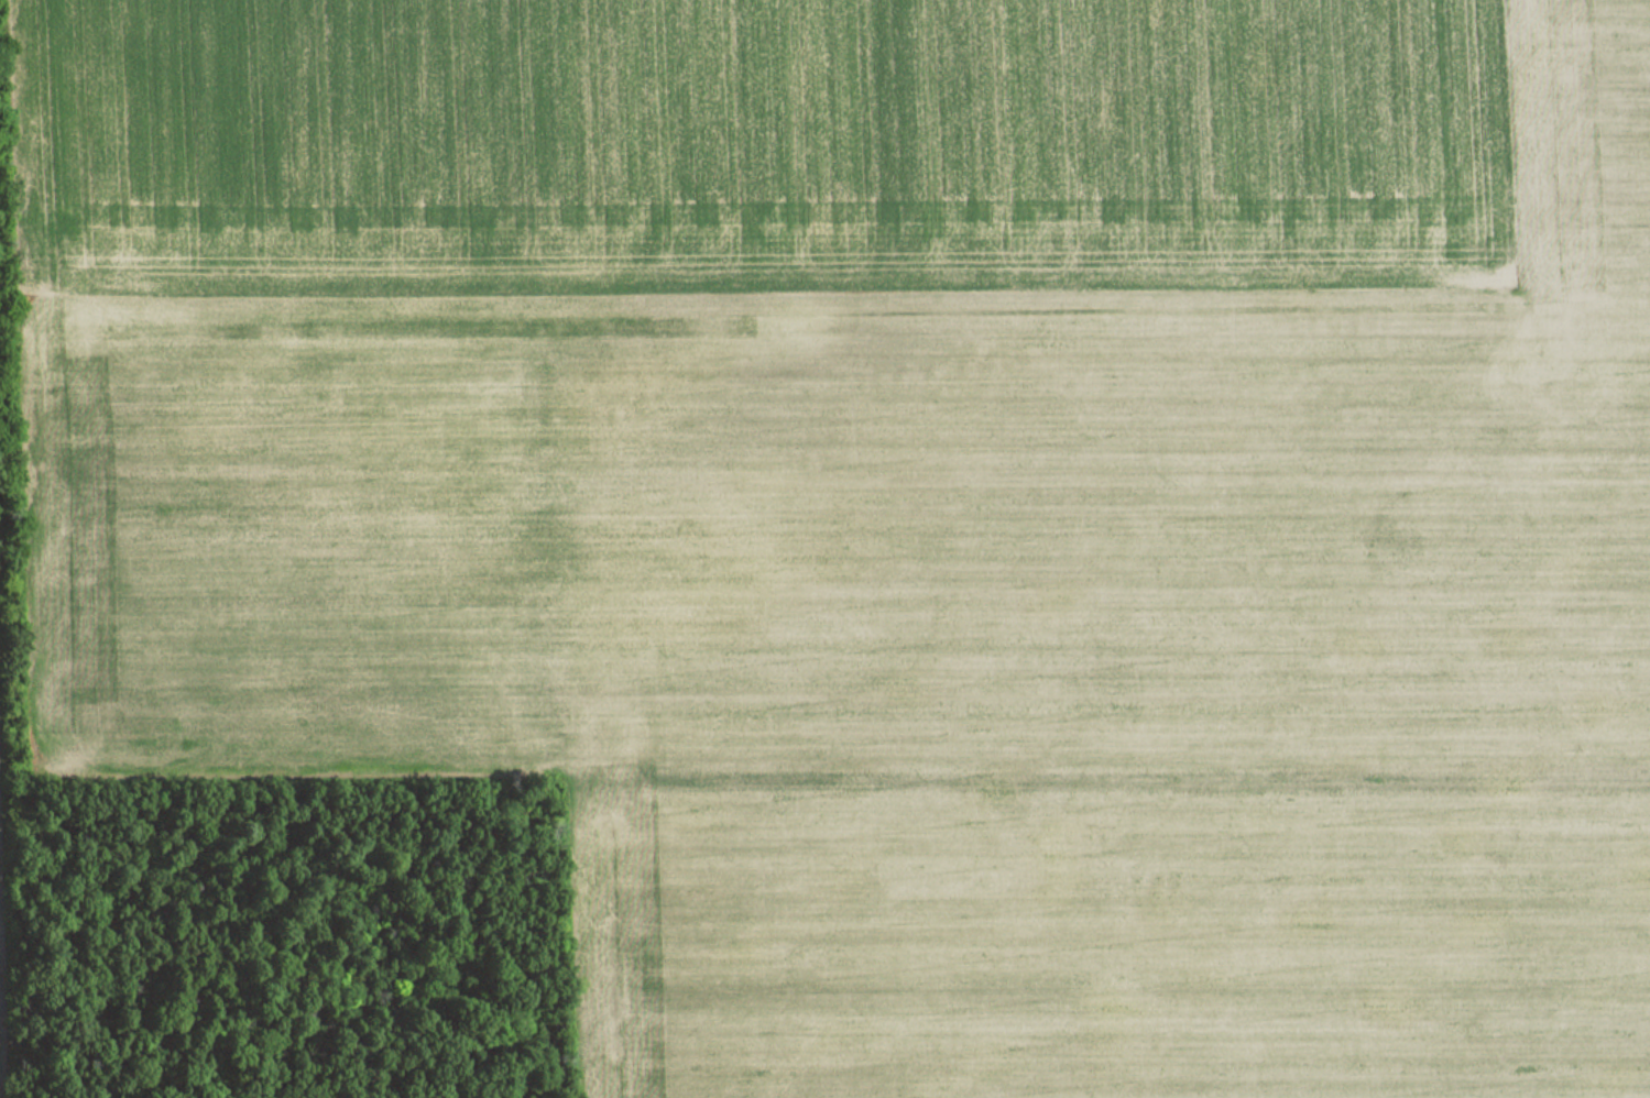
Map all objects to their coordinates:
crop: (890, 510)

